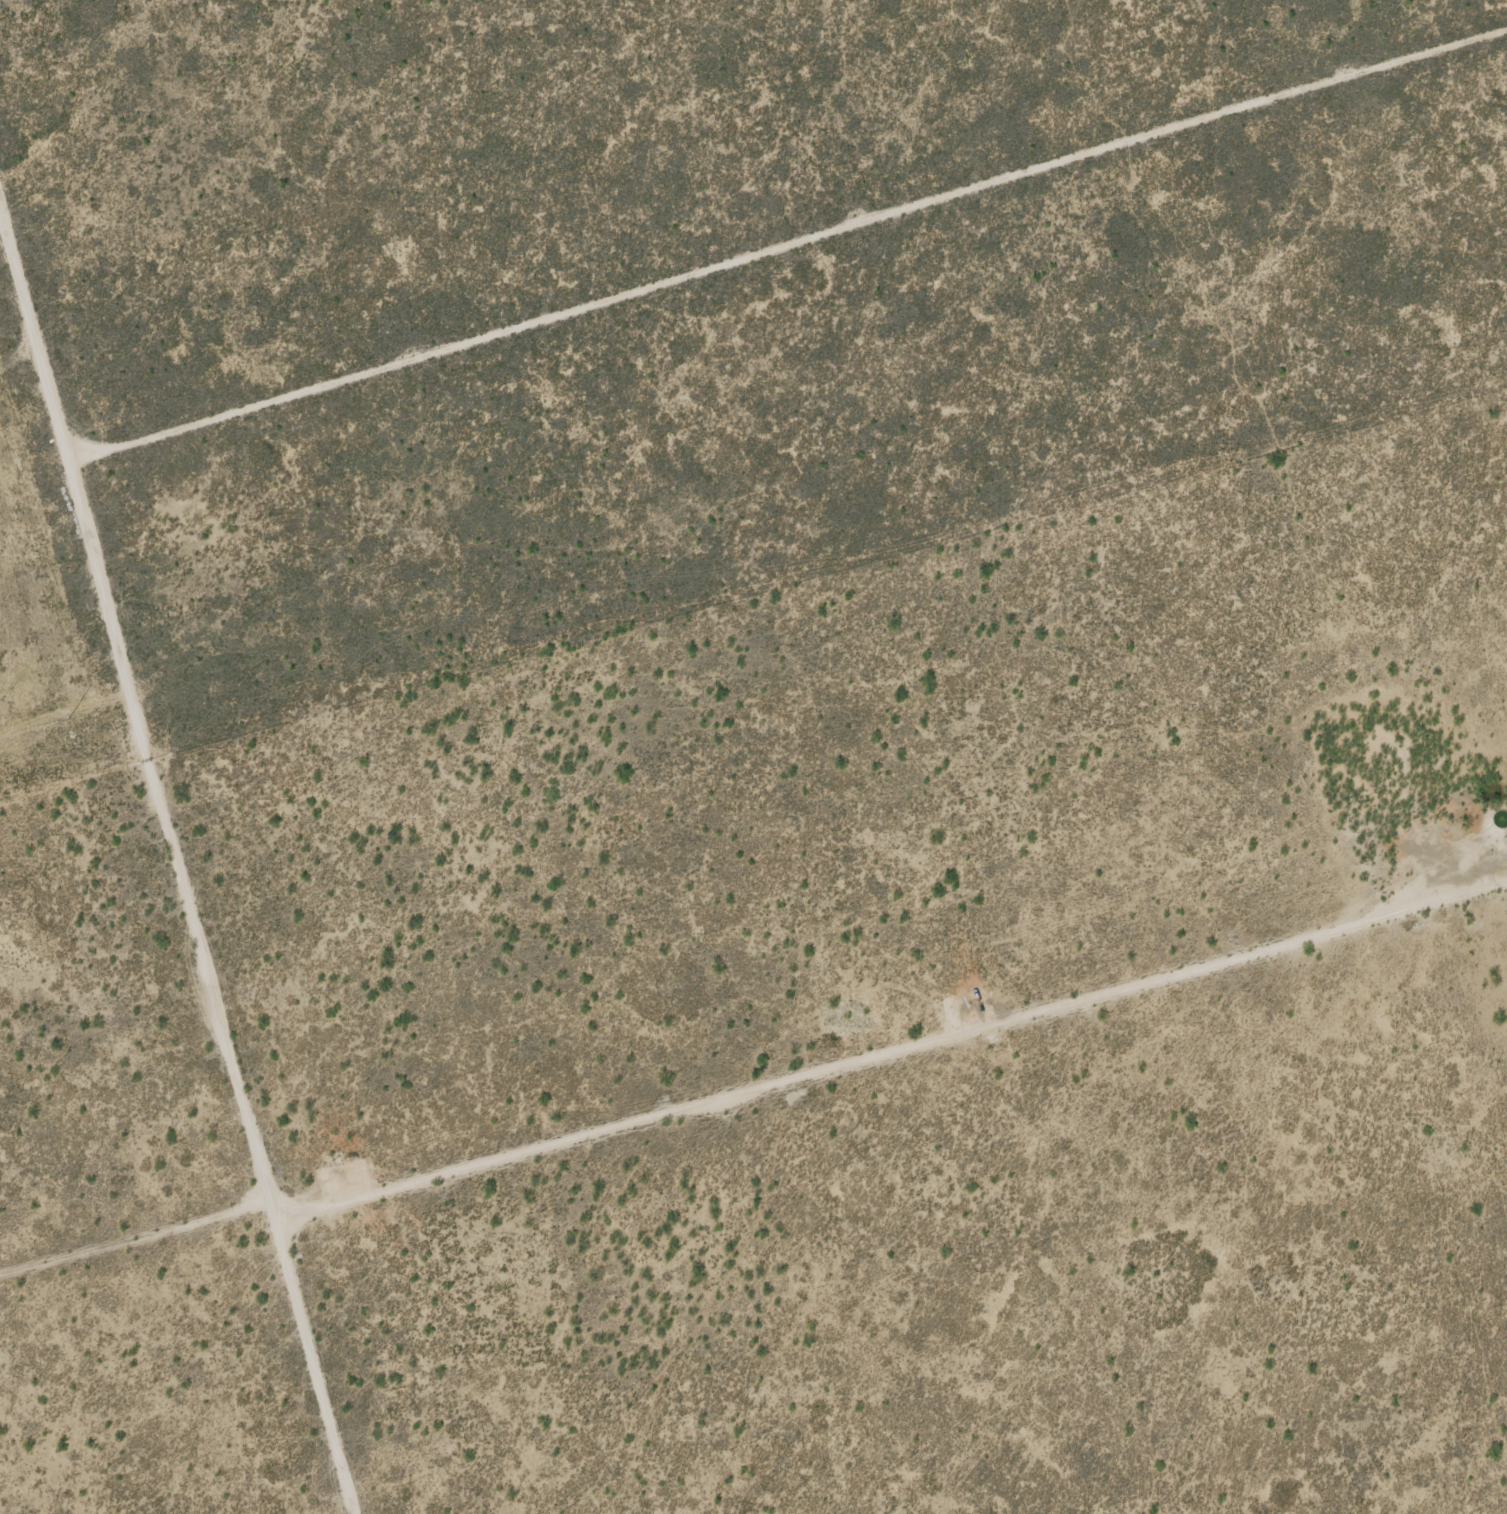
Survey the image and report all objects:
road: (25, 354)
power tower: (70, 718)
road: (187, 836)
road: (754, 1100)

